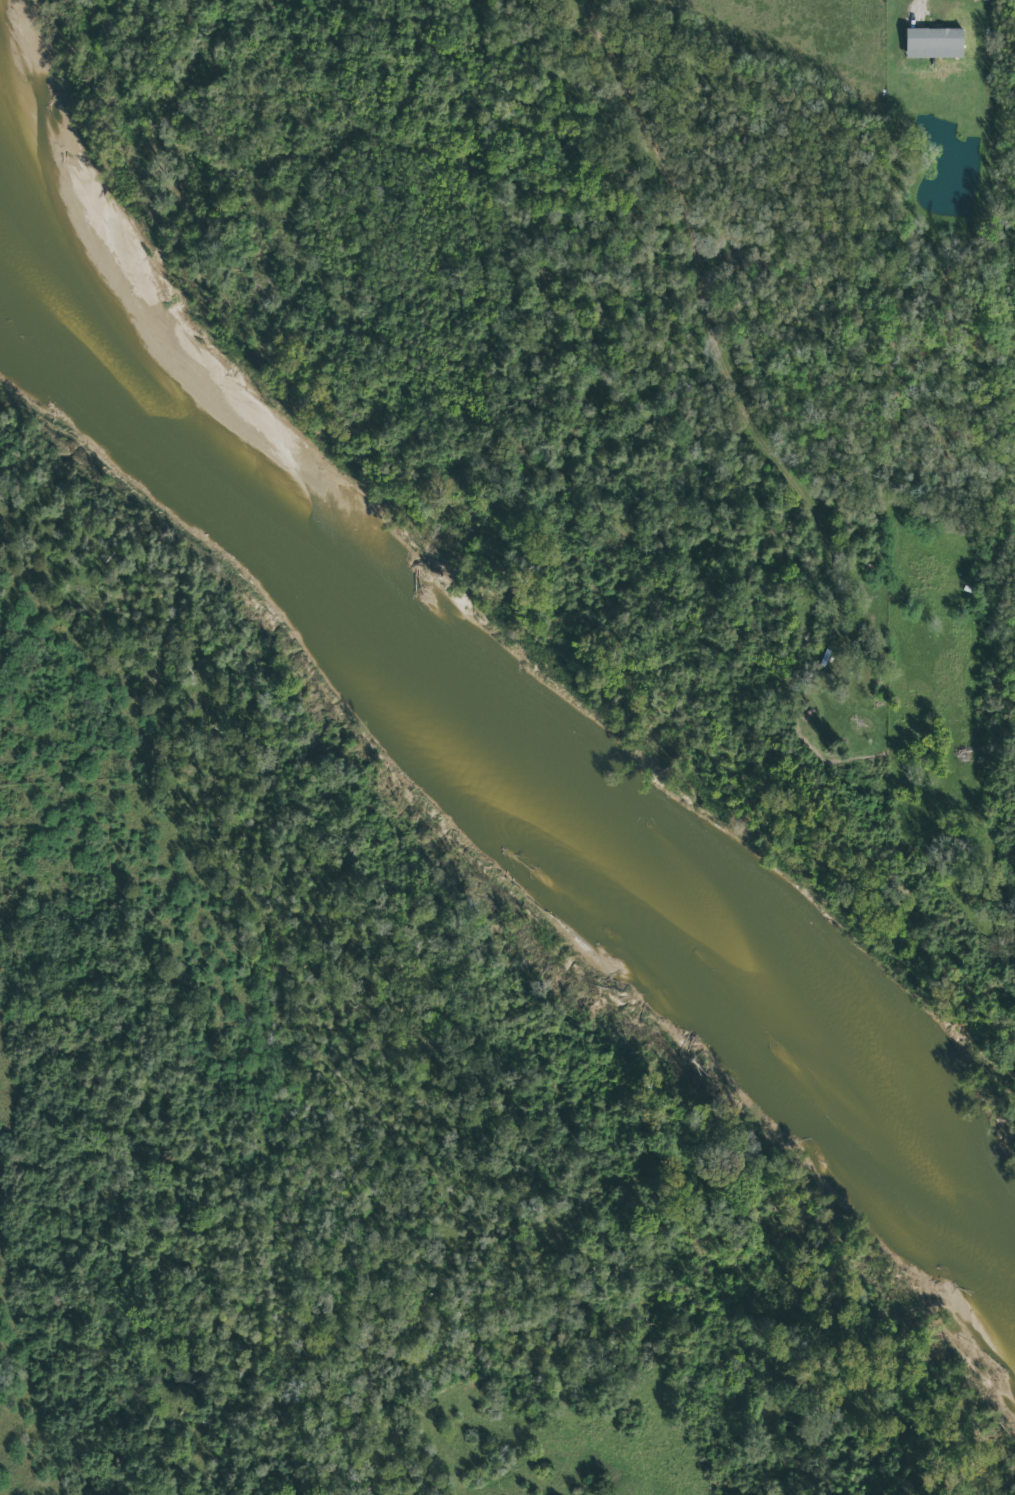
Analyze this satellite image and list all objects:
building: (987, 0)
road: (918, 13)
building: (935, 44)
river: (506, 750)
road: (38, 1447)

